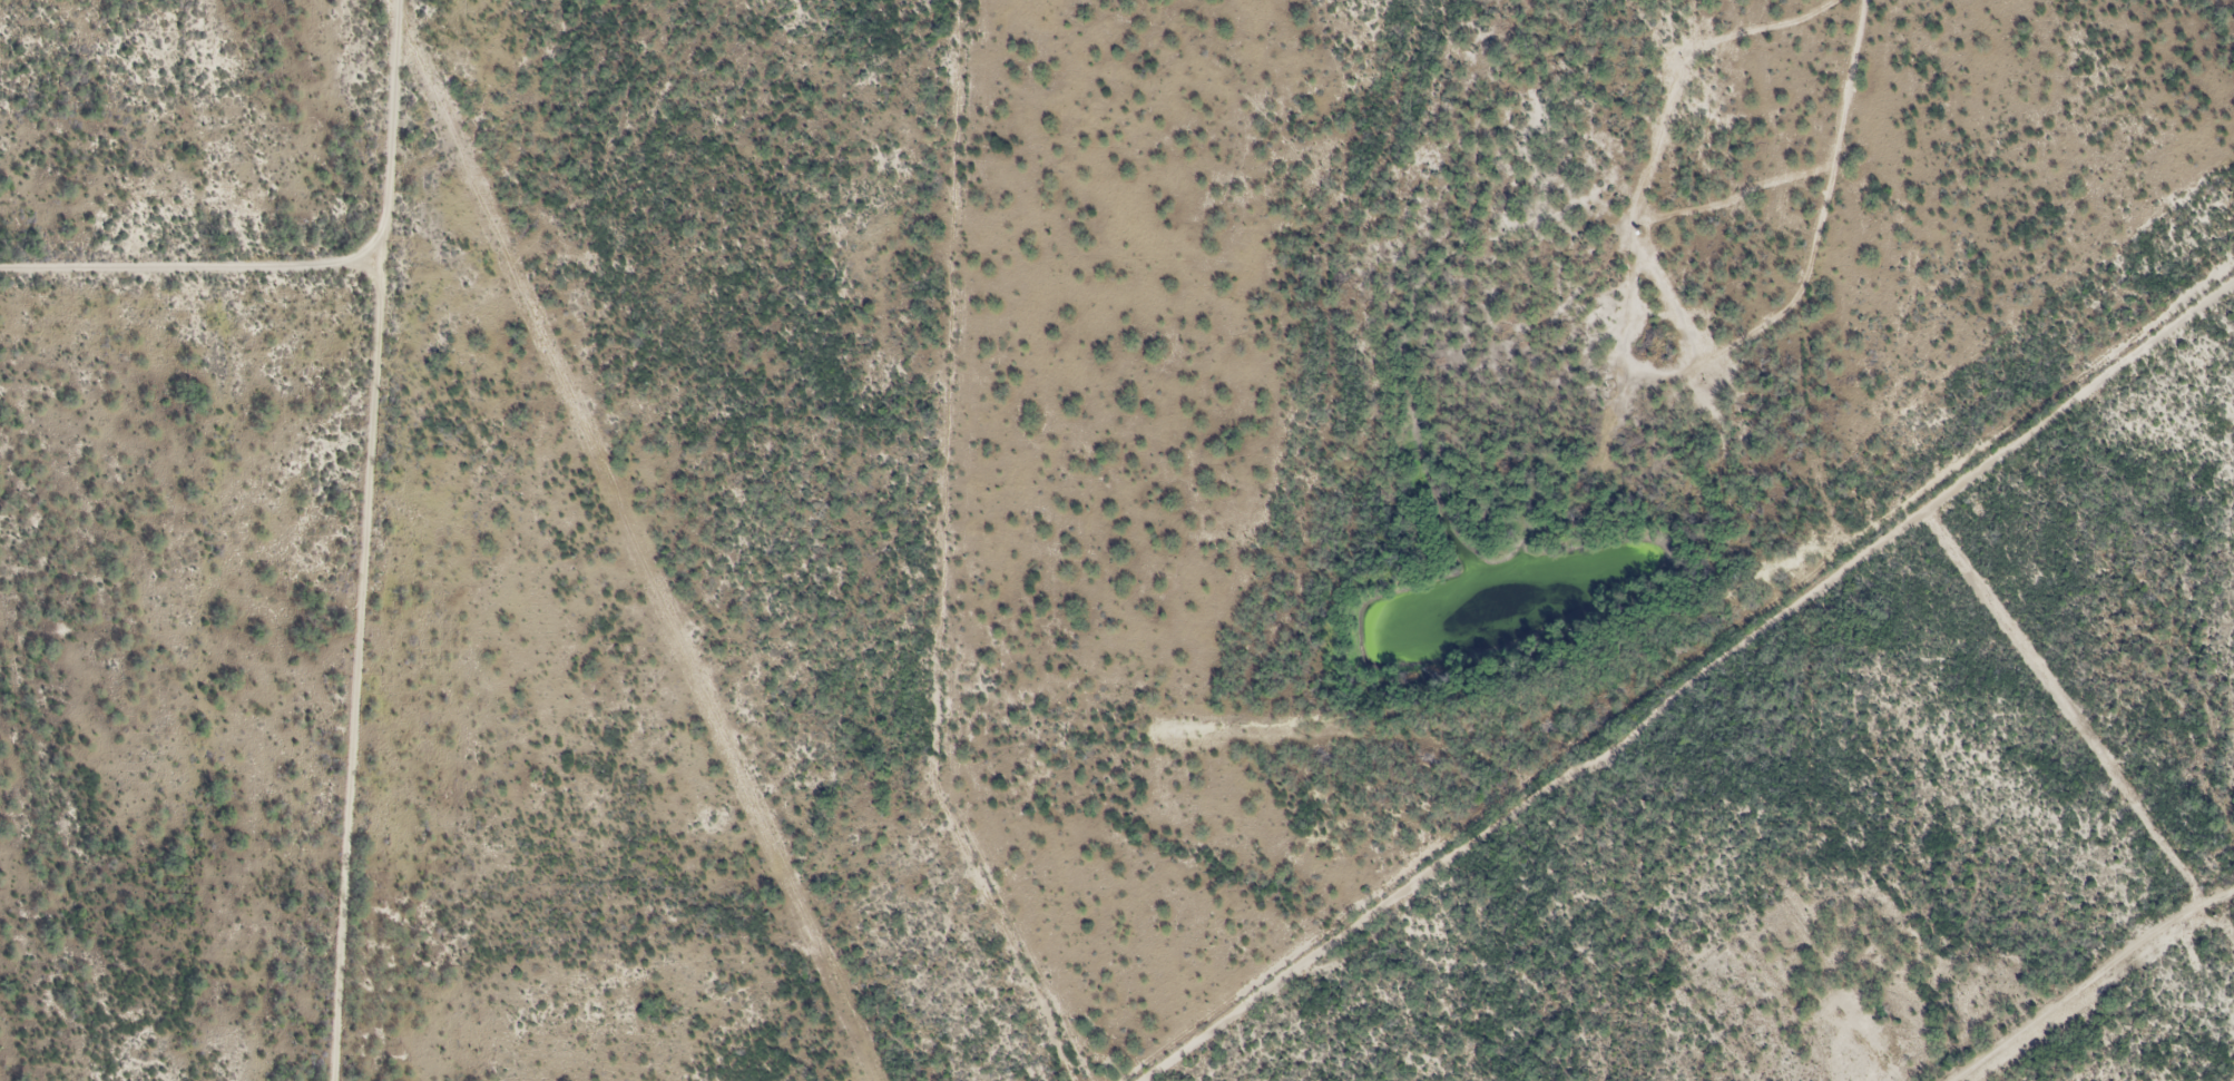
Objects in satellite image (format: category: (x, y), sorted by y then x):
road: (334, 540)

